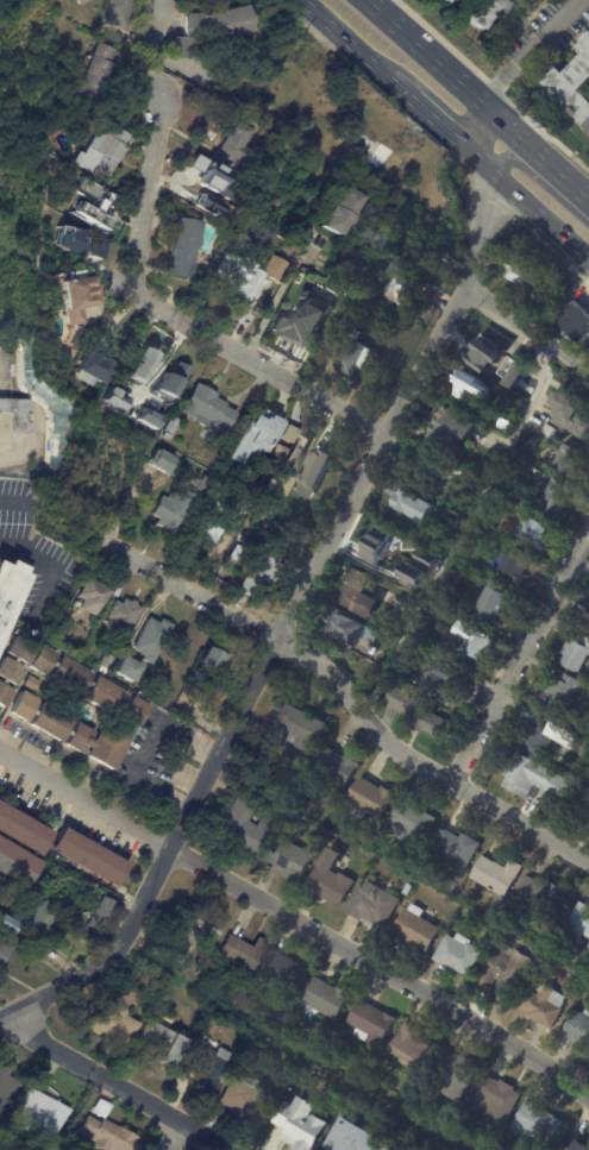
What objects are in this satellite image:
building: (445, 0)
building: (540, 0)
building: (80, 1)
building: (439, 1)
building: (506, 8)
building: (476, 10)
building: (115, 12)
road: (563, 19)
road: (162, 23)
building: (213, 27)
road: (350, 45)
road: (420, 51)
road: (512, 70)
building: (96, 71)
building: (572, 82)
road: (489, 87)
road: (426, 114)
railway: (458, 115)
road: (465, 120)
road: (501, 121)
building: (238, 140)
building: (101, 152)
building: (380, 156)
road: (471, 156)
road: (554, 170)
building: (265, 187)
road: (148, 195)
building: (278, 202)
building: (420, 202)
building: (88, 203)
building: (342, 212)
road: (540, 215)
building: (284, 234)
building: (387, 237)
building: (67, 239)
building: (244, 241)
building: (188, 247)
building: (94, 250)
building: (355, 268)
building: (250, 274)
building: (521, 274)
building: (328, 288)
building: (402, 293)
building: (77, 295)
road: (276, 300)
building: (355, 321)
building: (303, 322)
building: (572, 322)
road: (527, 329)
building: (344, 335)
building: (491, 353)
building: (356, 356)
road: (259, 363)
building: (140, 364)
building: (19, 370)
building: (93, 370)
building: (171, 378)
building: (144, 381)
building: (470, 387)
building: (118, 388)
building: (112, 398)
building: (209, 409)
building: (19, 415)
building: (572, 416)
building: (146, 417)
building: (46, 421)
building: (173, 426)
building: (451, 428)
building: (551, 433)
building: (168, 436)
building: (253, 438)
building: (284, 460)
building: (571, 461)
building: (164, 464)
building: (240, 470)
building: (313, 472)
building: (556, 498)
building: (237, 502)
building: (414, 505)
building: (173, 511)
building: (211, 521)
road: (462, 527)
building: (533, 532)
building: (390, 548)
building: (265, 567)
building: (519, 567)
building: (11, 591)
building: (92, 595)
building: (401, 595)
building: (361, 596)
building: (496, 603)
road: (296, 608)
building: (587, 612)
building: (125, 614)
building: (350, 630)
building: (153, 639)
building: (474, 642)
building: (575, 654)
road: (521, 656)
building: (213, 659)
building: (107, 662)
building: (14, 667)
building: (127, 668)
building: (199, 678)
building: (446, 689)
building: (557, 692)
road: (350, 696)
building: (402, 699)
building: (125, 706)
building: (430, 719)
building: (302, 725)
building: (537, 736)
building: (339, 771)
building: (535, 779)
building: (374, 798)
building: (414, 822)
building: (245, 825)
building: (21, 829)
building: (588, 831)
building: (462, 848)
building: (87, 854)
building: (293, 857)
building: (15, 863)
building: (503, 874)
building: (336, 878)
building: (413, 888)
building: (545, 898)
building: (378, 905)
building: (104, 913)
road: (296, 919)
building: (44, 920)
building: (583, 922)
building: (7, 925)
building: (195, 926)
building: (421, 929)
building: (0, 938)
building: (558, 942)
building: (4, 953)
building: (243, 954)
building: (464, 954)
building: (552, 962)
building: (199, 970)
building: (286, 972)
building: (512, 972)
building: (330, 998)
building: (549, 1005)
building: (117, 1019)
building: (375, 1023)
building: (581, 1028)
building: (163, 1039)
building: (414, 1047)
building: (211, 1067)
building: (460, 1073)
road: (117, 1083)
building: (6, 1087)
building: (249, 1100)
building: (497, 1101)
building: (102, 1108)
building: (42, 1113)
building: (540, 1124)
building: (299, 1126)
building: (109, 1135)
road: (177, 1137)
building: (350, 1137)
building: (574, 1144)
building: (386, 1149)

